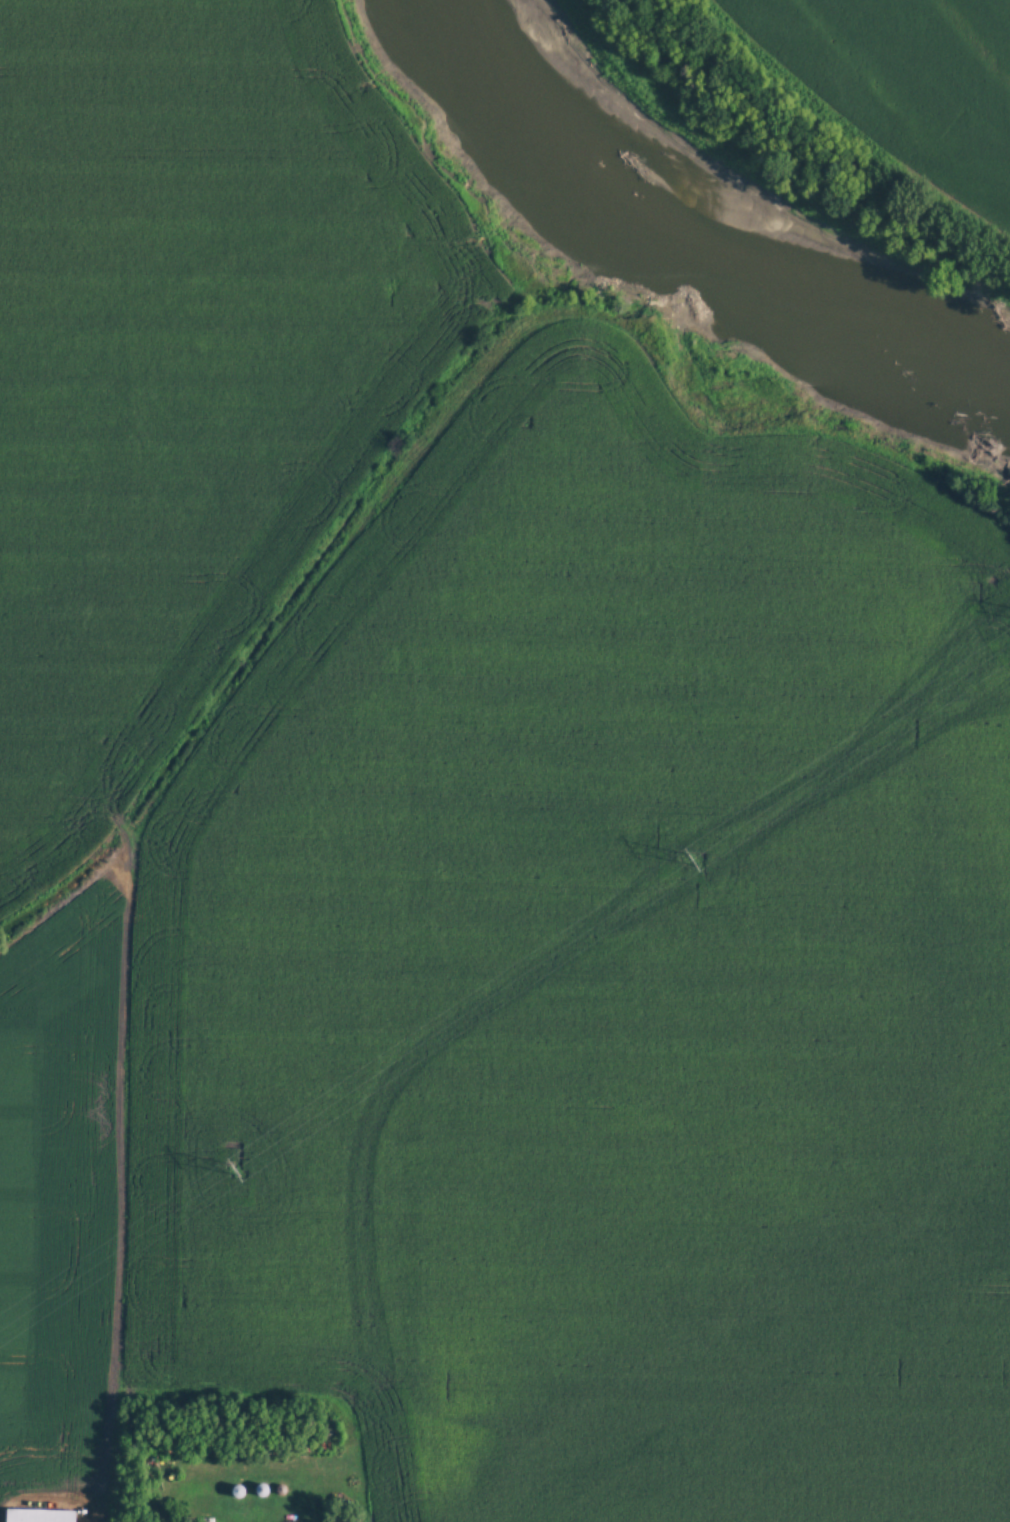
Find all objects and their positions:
river: (736, 213)
power tower: (691, 858)
power tower: (237, 1171)

